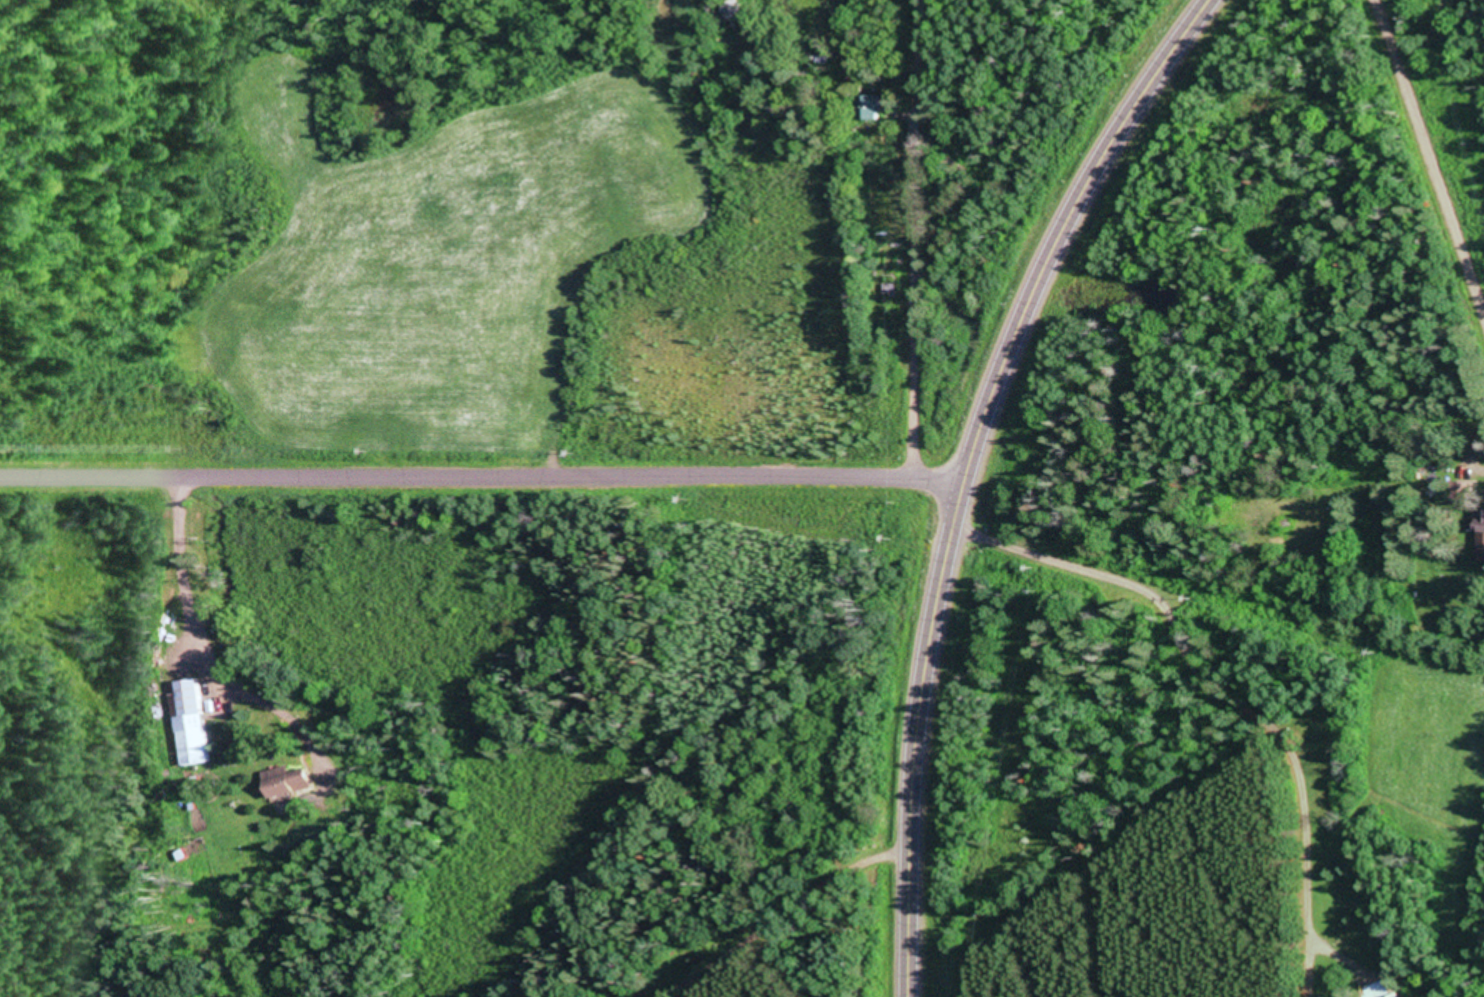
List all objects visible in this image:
building: (726, 8)
building: (874, 104)
road: (1434, 147)
road: (912, 236)
building: (893, 286)
road: (961, 468)
road: (479, 474)
building: (1466, 490)
building: (1482, 532)
building: (191, 720)
building: (289, 778)
road: (770, 915)
building: (1388, 995)

